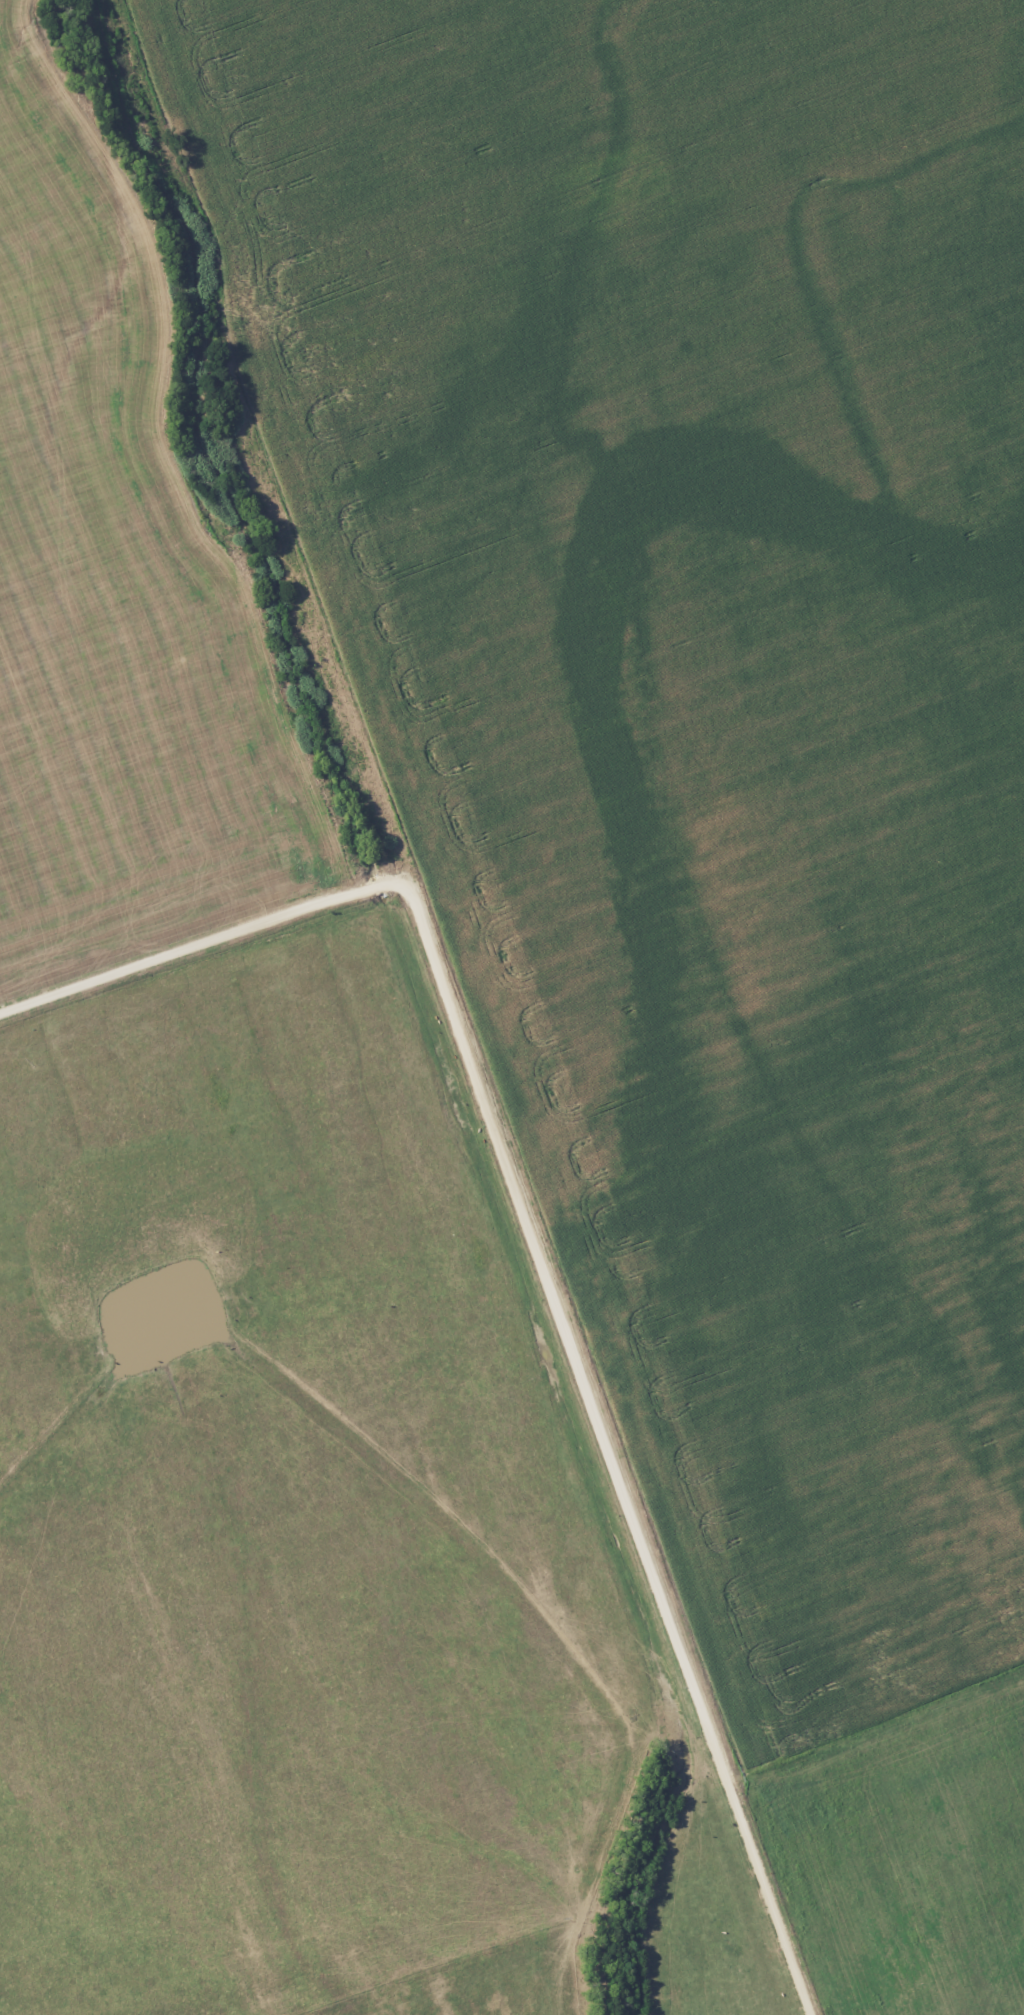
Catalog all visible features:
road: (549, 1241)

